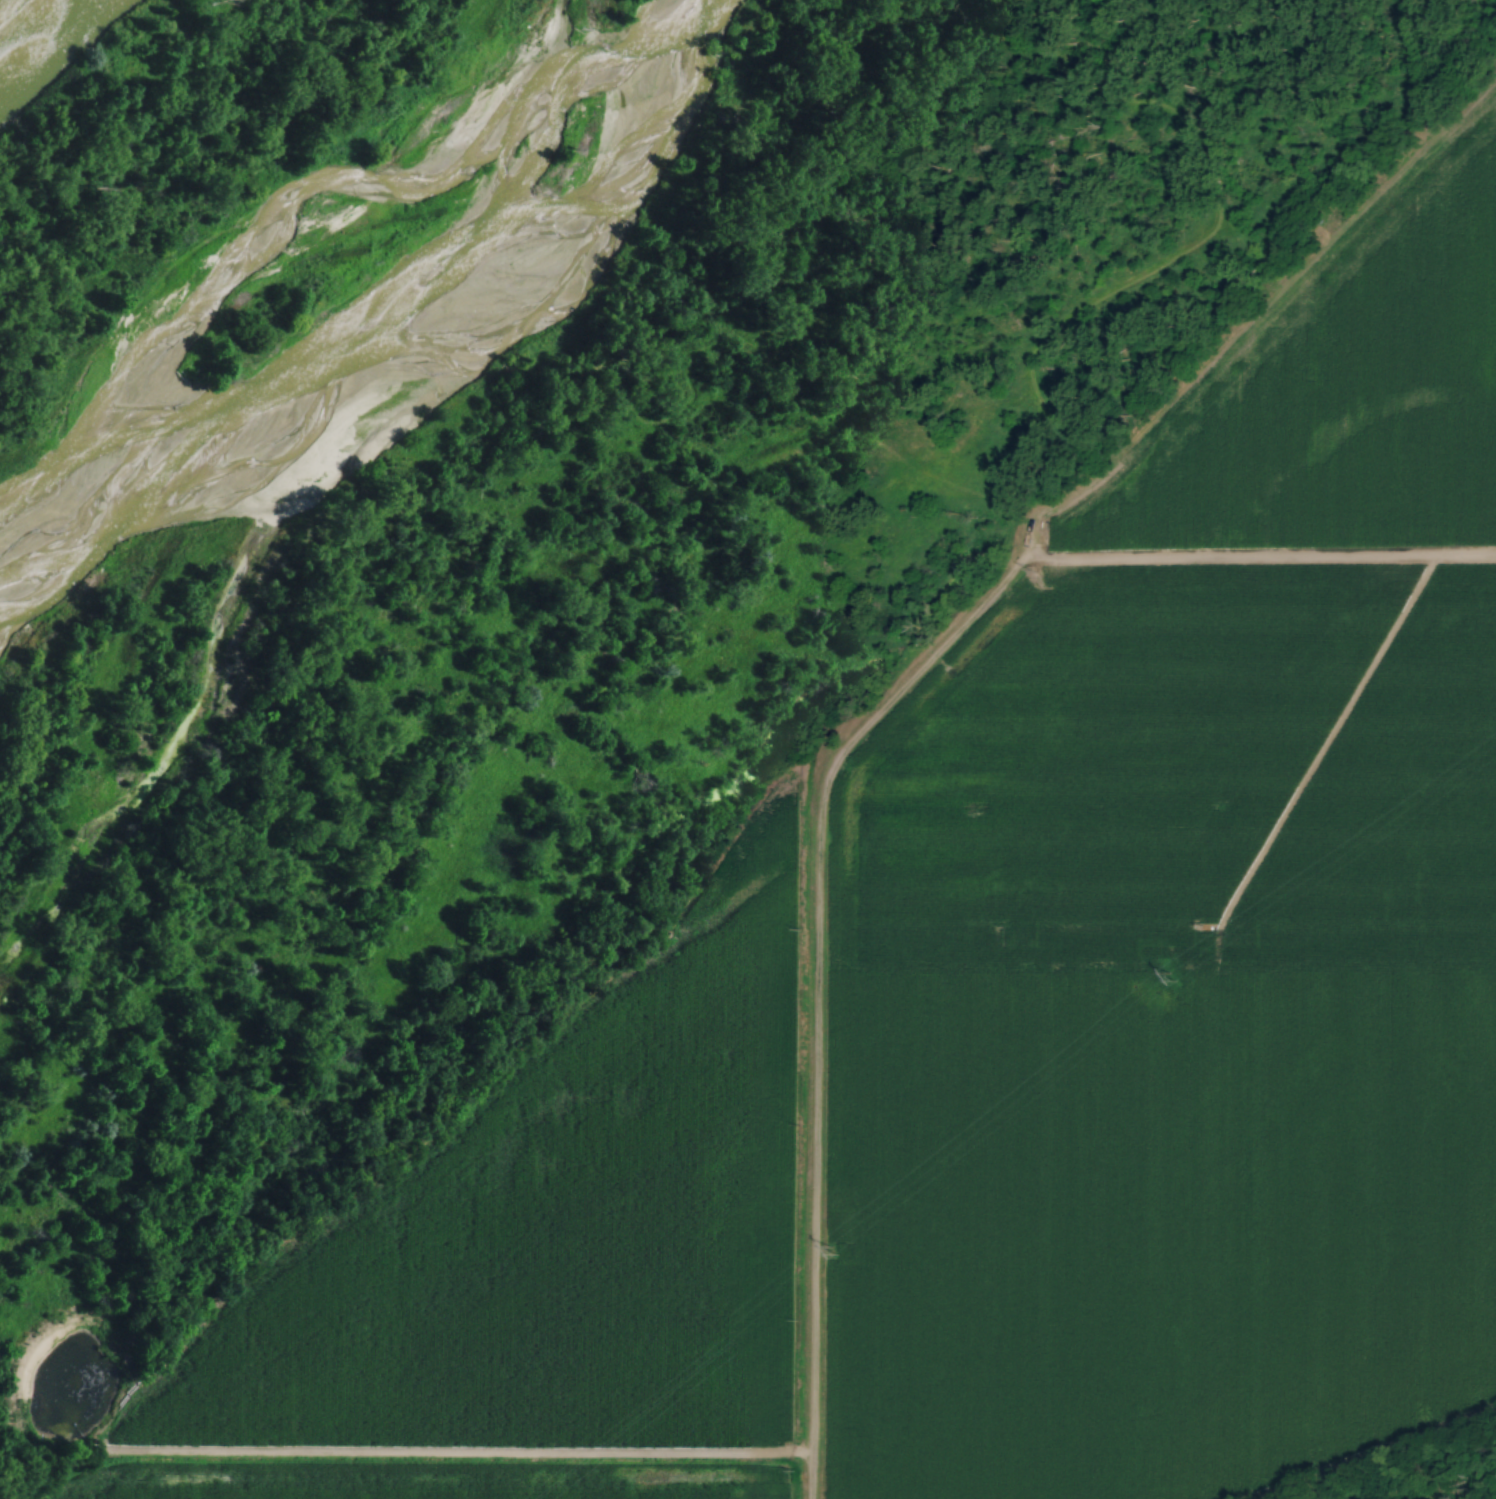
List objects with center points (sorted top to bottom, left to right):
power tower: (1171, 978)
road: (818, 985)
power tower: (833, 1251)
road: (354, 1462)

